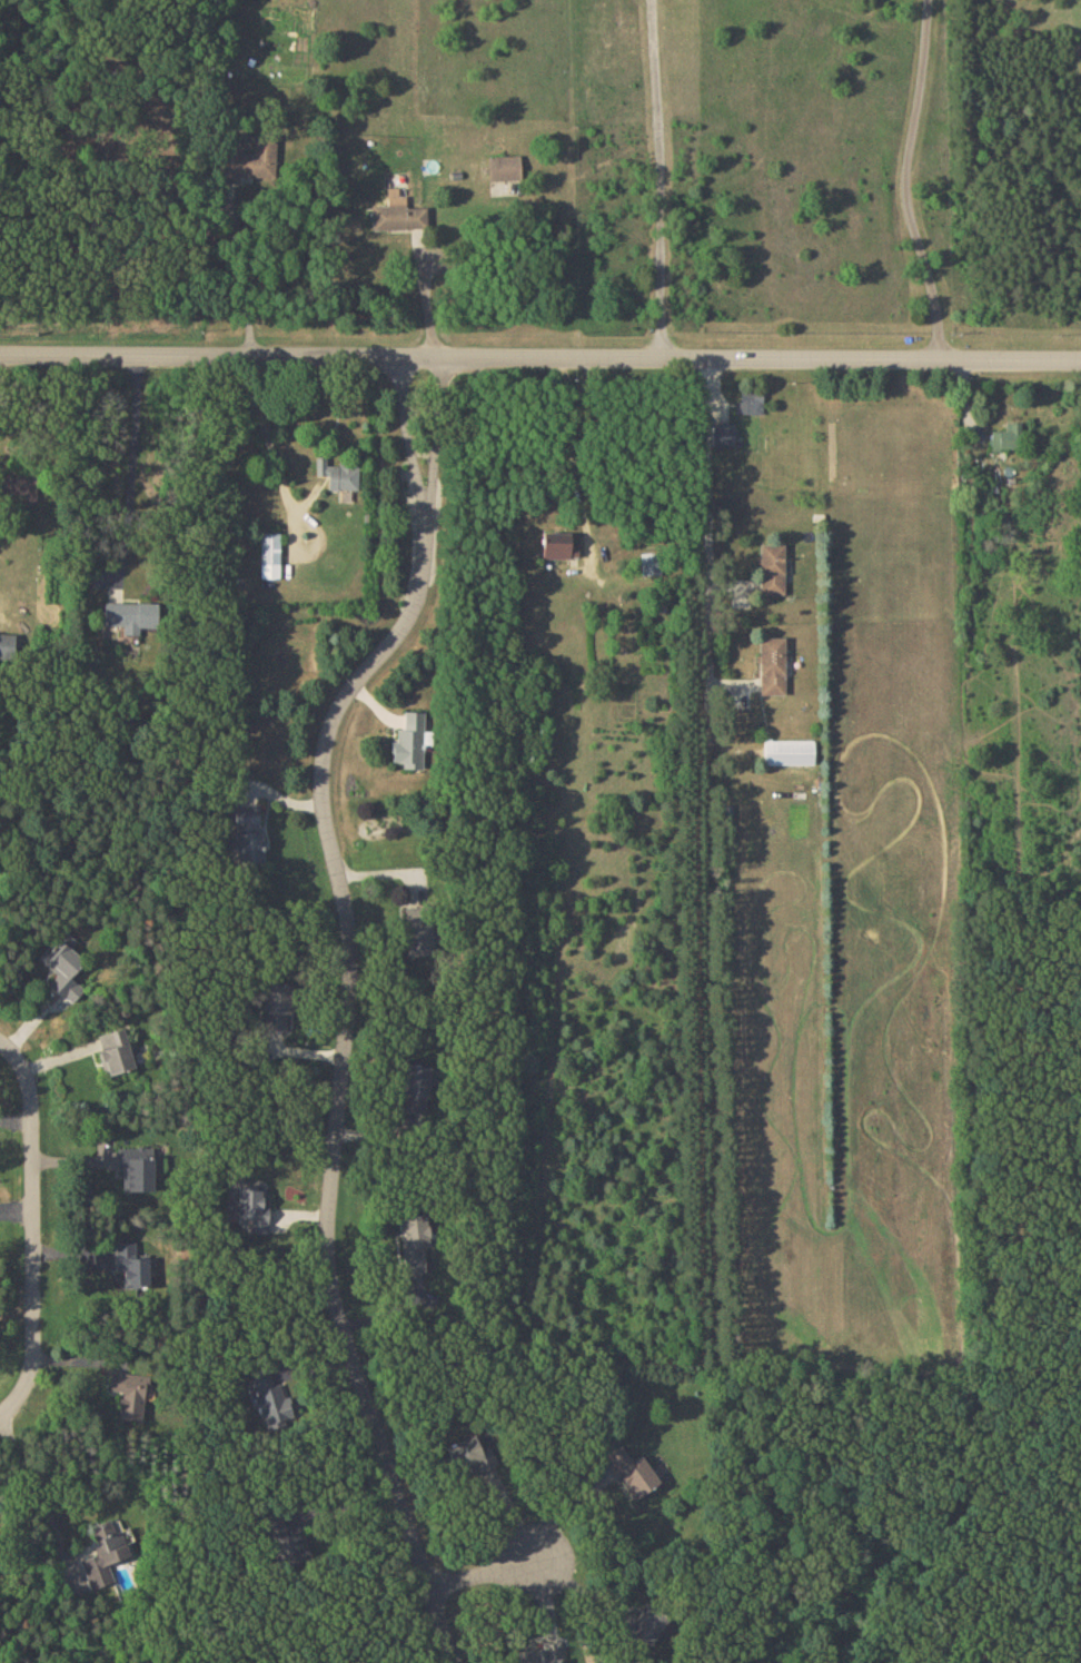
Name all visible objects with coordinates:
building: (248, 156)
building: (504, 167)
road: (658, 179)
road: (905, 181)
building: (397, 212)
road: (242, 283)
road: (426, 301)
road: (539, 359)
building: (750, 402)
building: (723, 433)
building: (1005, 436)
road: (268, 451)
road: (571, 458)
road: (130, 462)
building: (338, 474)
building: (16, 483)
road: (707, 525)
building: (557, 545)
building: (269, 554)
building: (651, 563)
building: (772, 568)
building: (131, 615)
building: (8, 644)
building: (772, 664)
building: (409, 741)
building: (789, 751)
building: (247, 833)
building: (416, 914)
building: (418, 939)
building: (62, 966)
road: (350, 1003)
building: (276, 1007)
building: (115, 1050)
building: (418, 1087)
building: (137, 1168)
building: (252, 1206)
road: (34, 1229)
building: (414, 1238)
building: (132, 1264)
building: (129, 1392)
building: (269, 1397)
building: (468, 1454)
building: (632, 1471)
road: (564, 1508)
building: (281, 1540)
building: (105, 1552)
road: (475, 1565)
road: (572, 1585)
building: (644, 1625)
building: (542, 1654)

